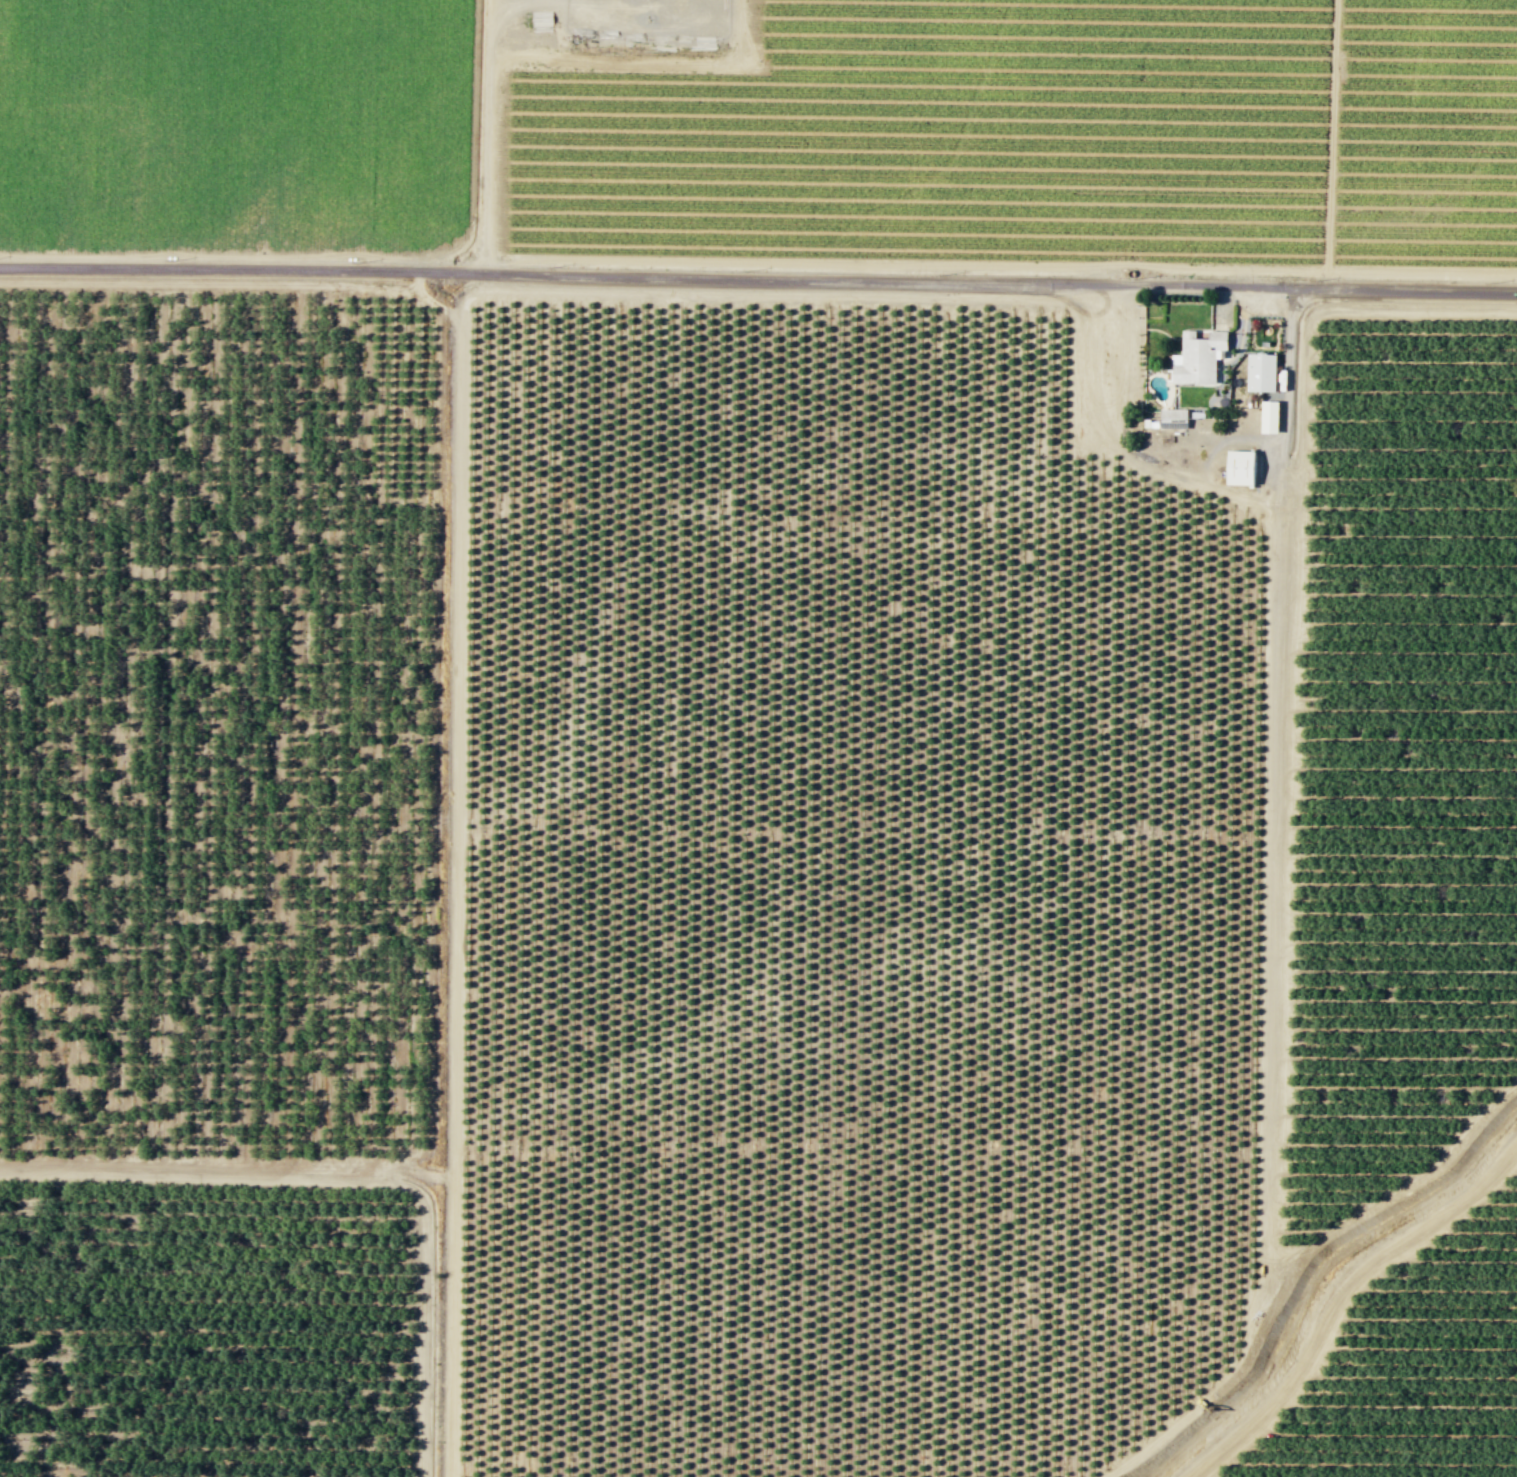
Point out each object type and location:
road: (486, 136)
road: (1329, 143)
road: (356, 255)
road: (912, 263)
road: (1421, 274)
road: (758, 278)
road: (237, 281)
road: (762, 294)
road: (1314, 318)
building: (1198, 358)
building: (1261, 373)
building: (1270, 417)
building: (1240, 468)
road: (429, 752)
road: (1273, 858)
road: (456, 901)
road: (424, 1170)
road: (350, 1179)
road: (1402, 1190)
road: (1336, 1298)

